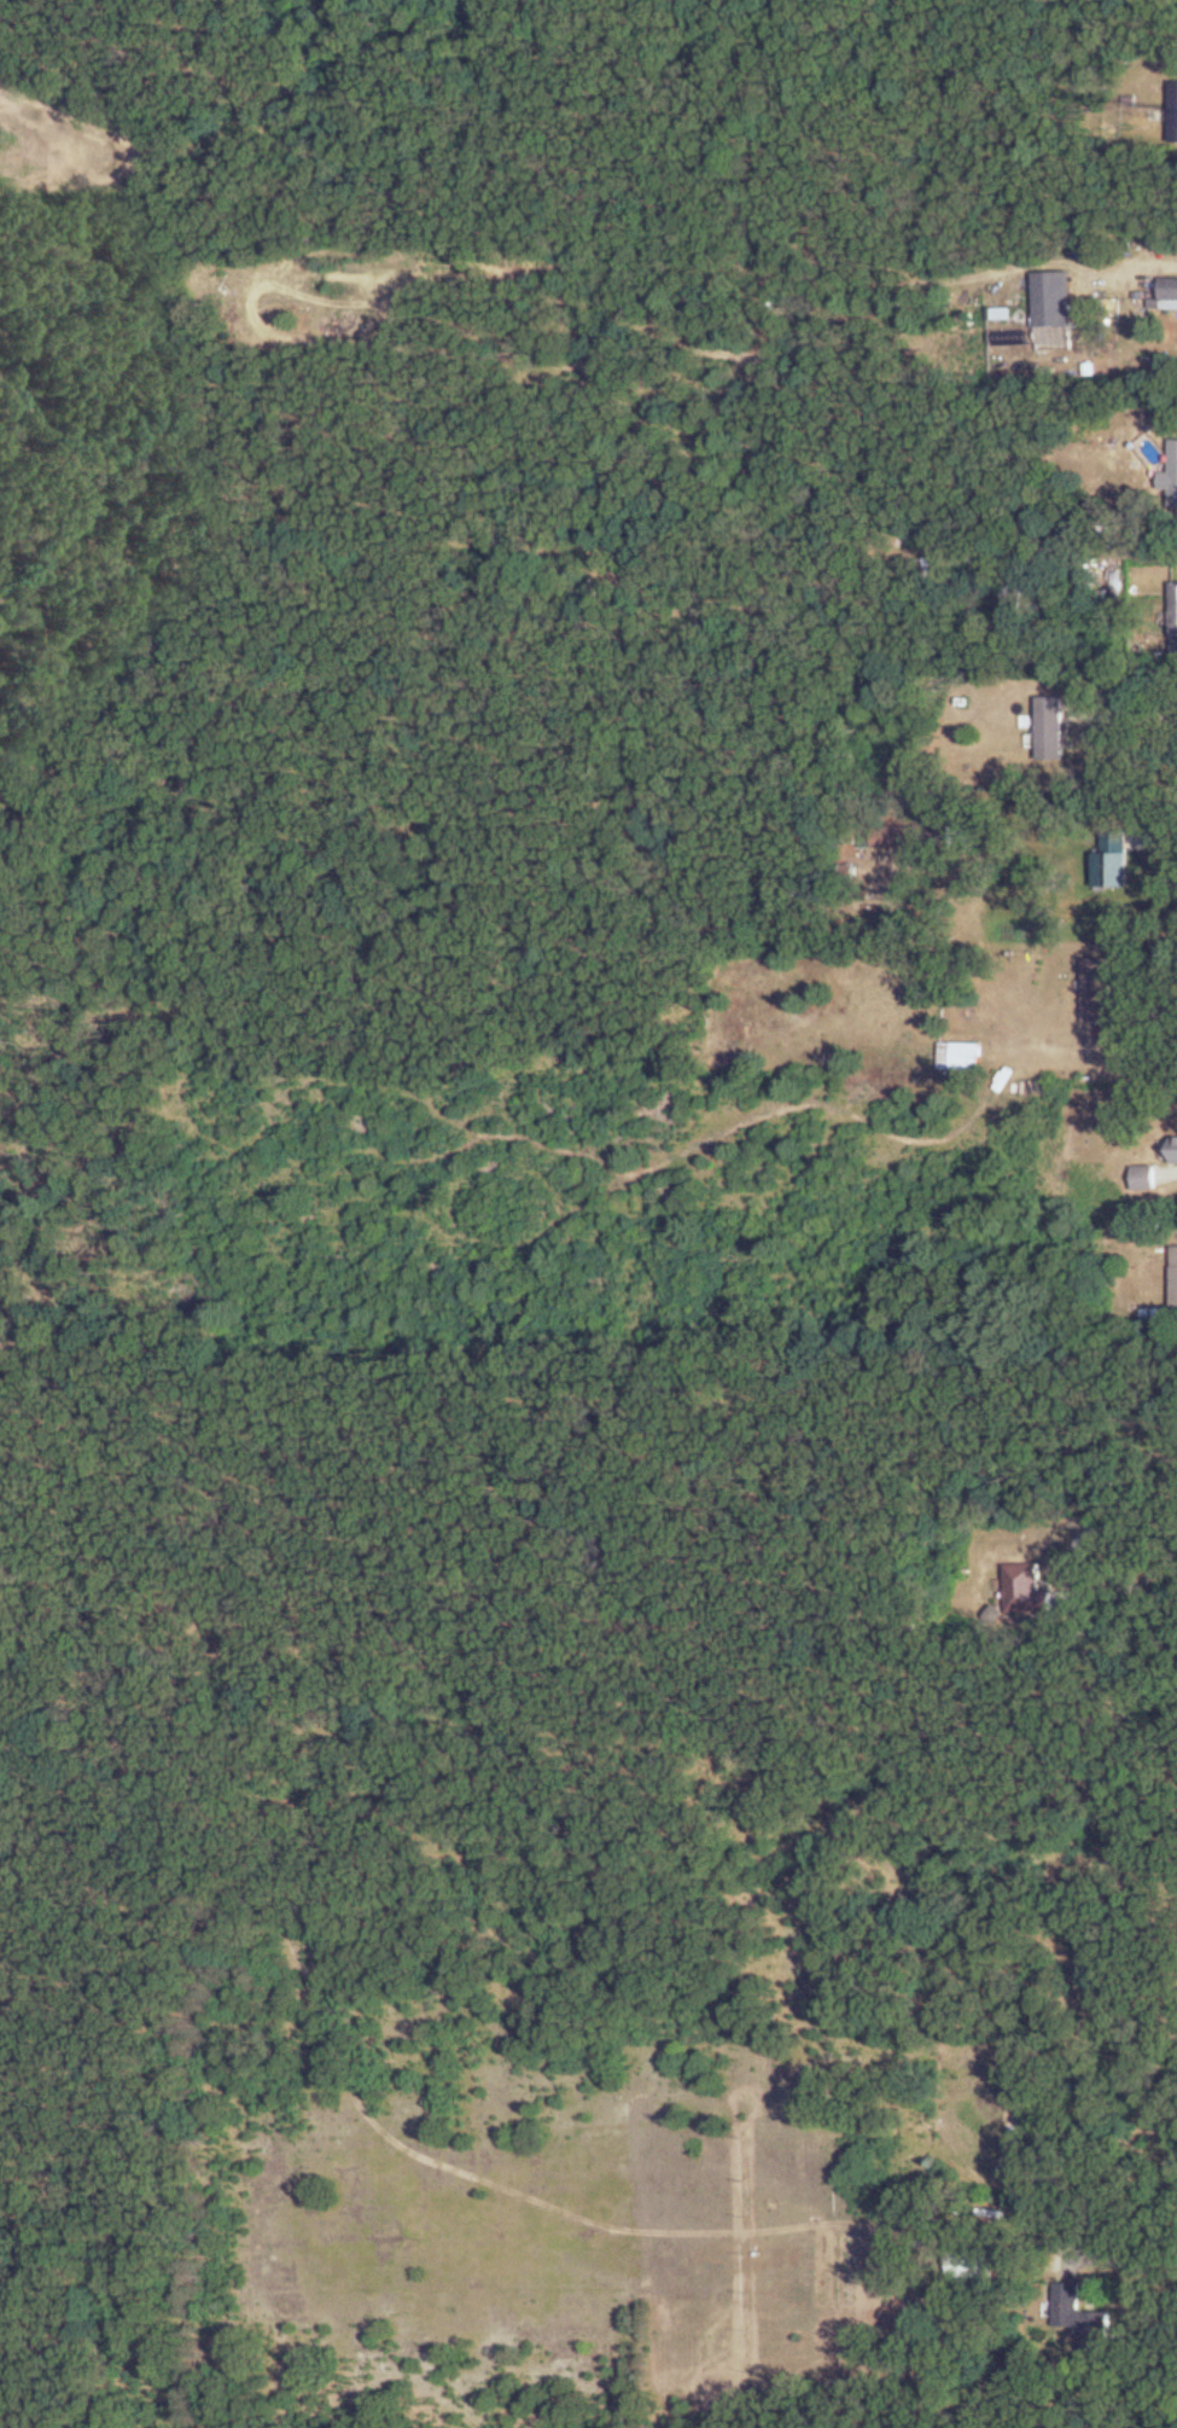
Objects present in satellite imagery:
building: (1175, 111)
building: (1170, 292)
building: (1055, 298)
building: (1171, 475)
building: (1022, 592)
building: (1175, 617)
road: (1130, 715)
building: (1051, 727)
building: (905, 836)
road: (1159, 840)
building: (1113, 860)
building: (1097, 989)
road: (1152, 1010)
building: (960, 1056)
building: (1173, 1150)
road: (1169, 1171)
building: (1144, 1178)
building: (1175, 1276)
road: (1082, 1567)
building: (1029, 1591)
road: (1130, 2261)
building: (973, 2265)
building: (1084, 2318)

